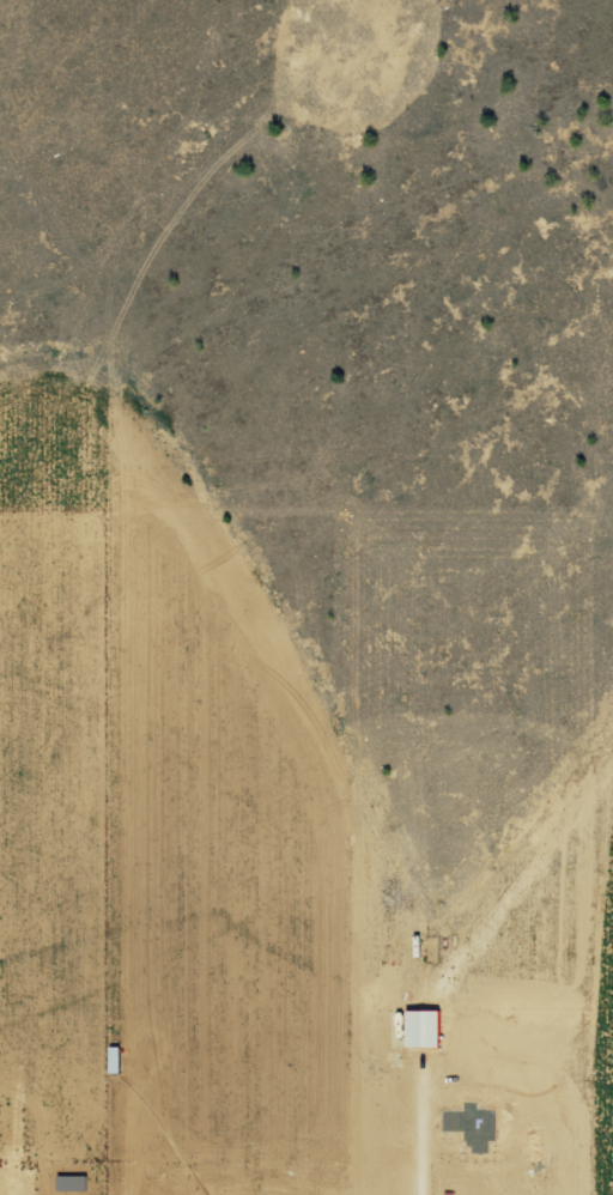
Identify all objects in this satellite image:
road: (456, 969)

